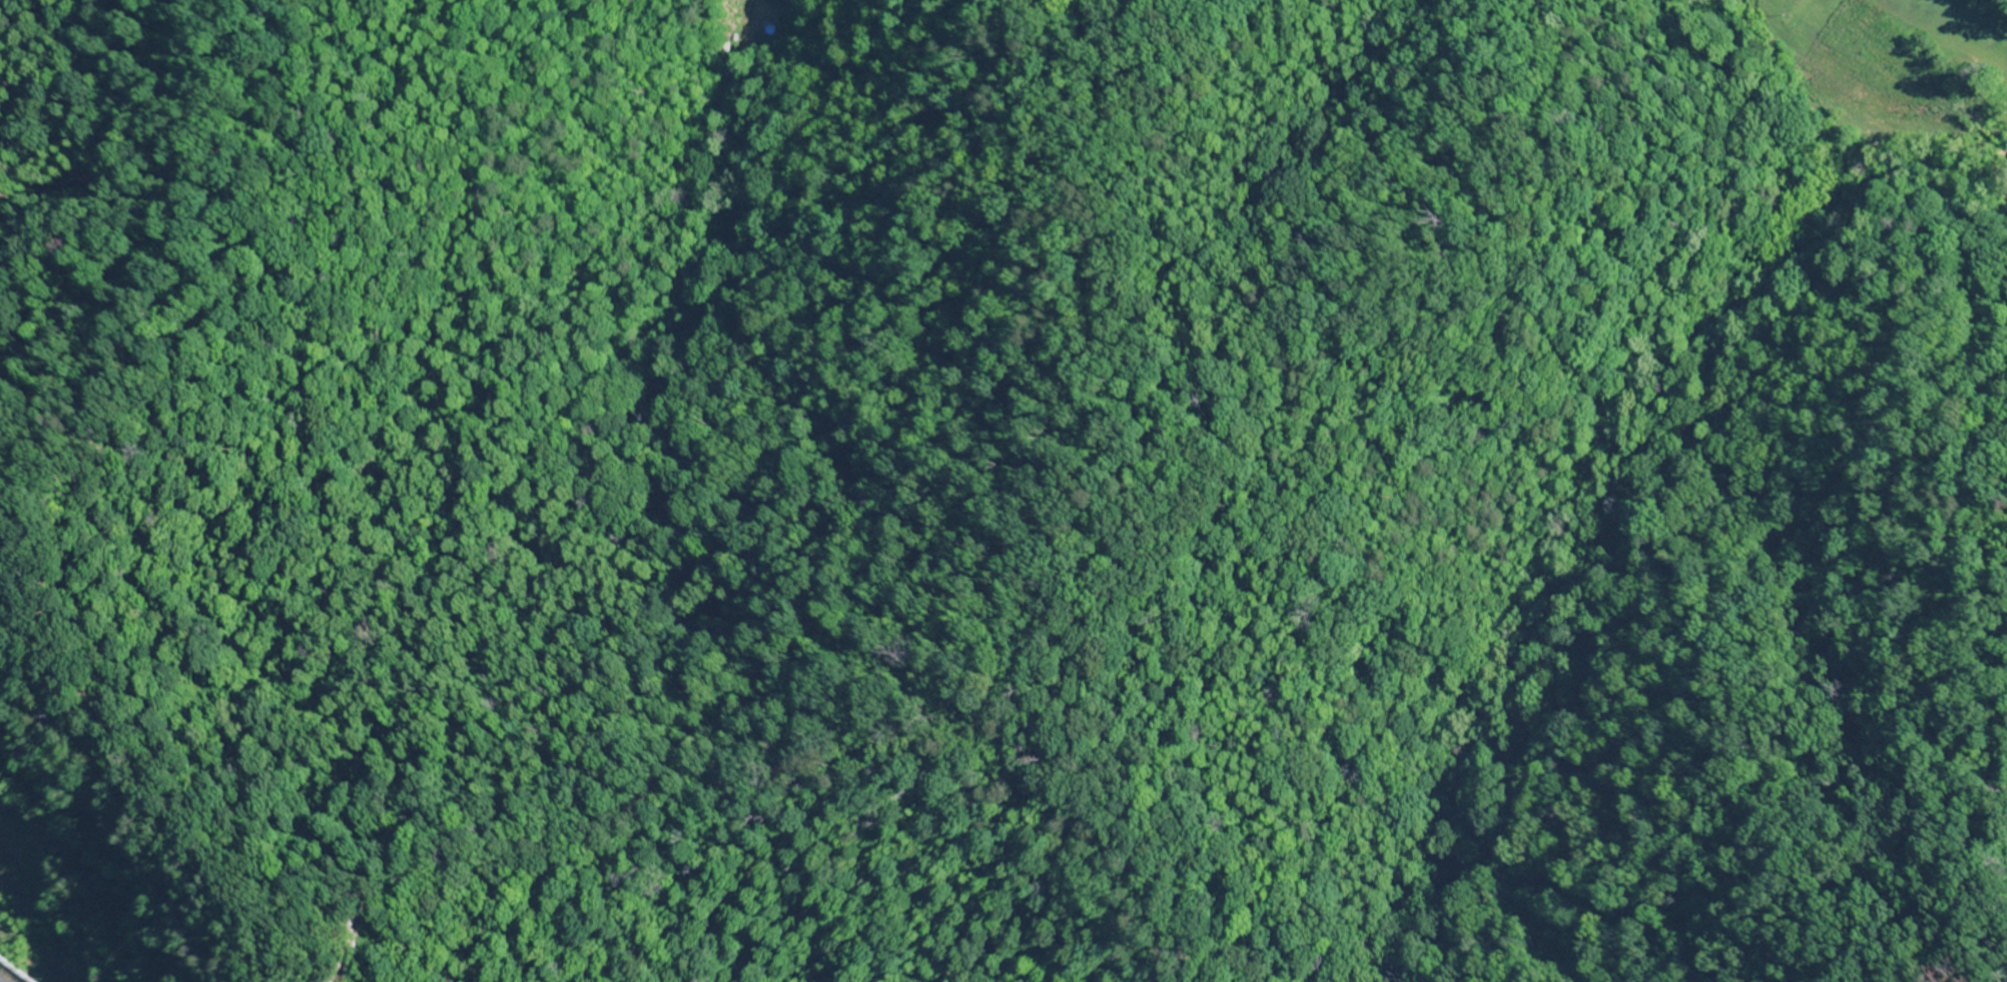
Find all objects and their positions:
road: (1997, 3)
road: (1781, 51)

